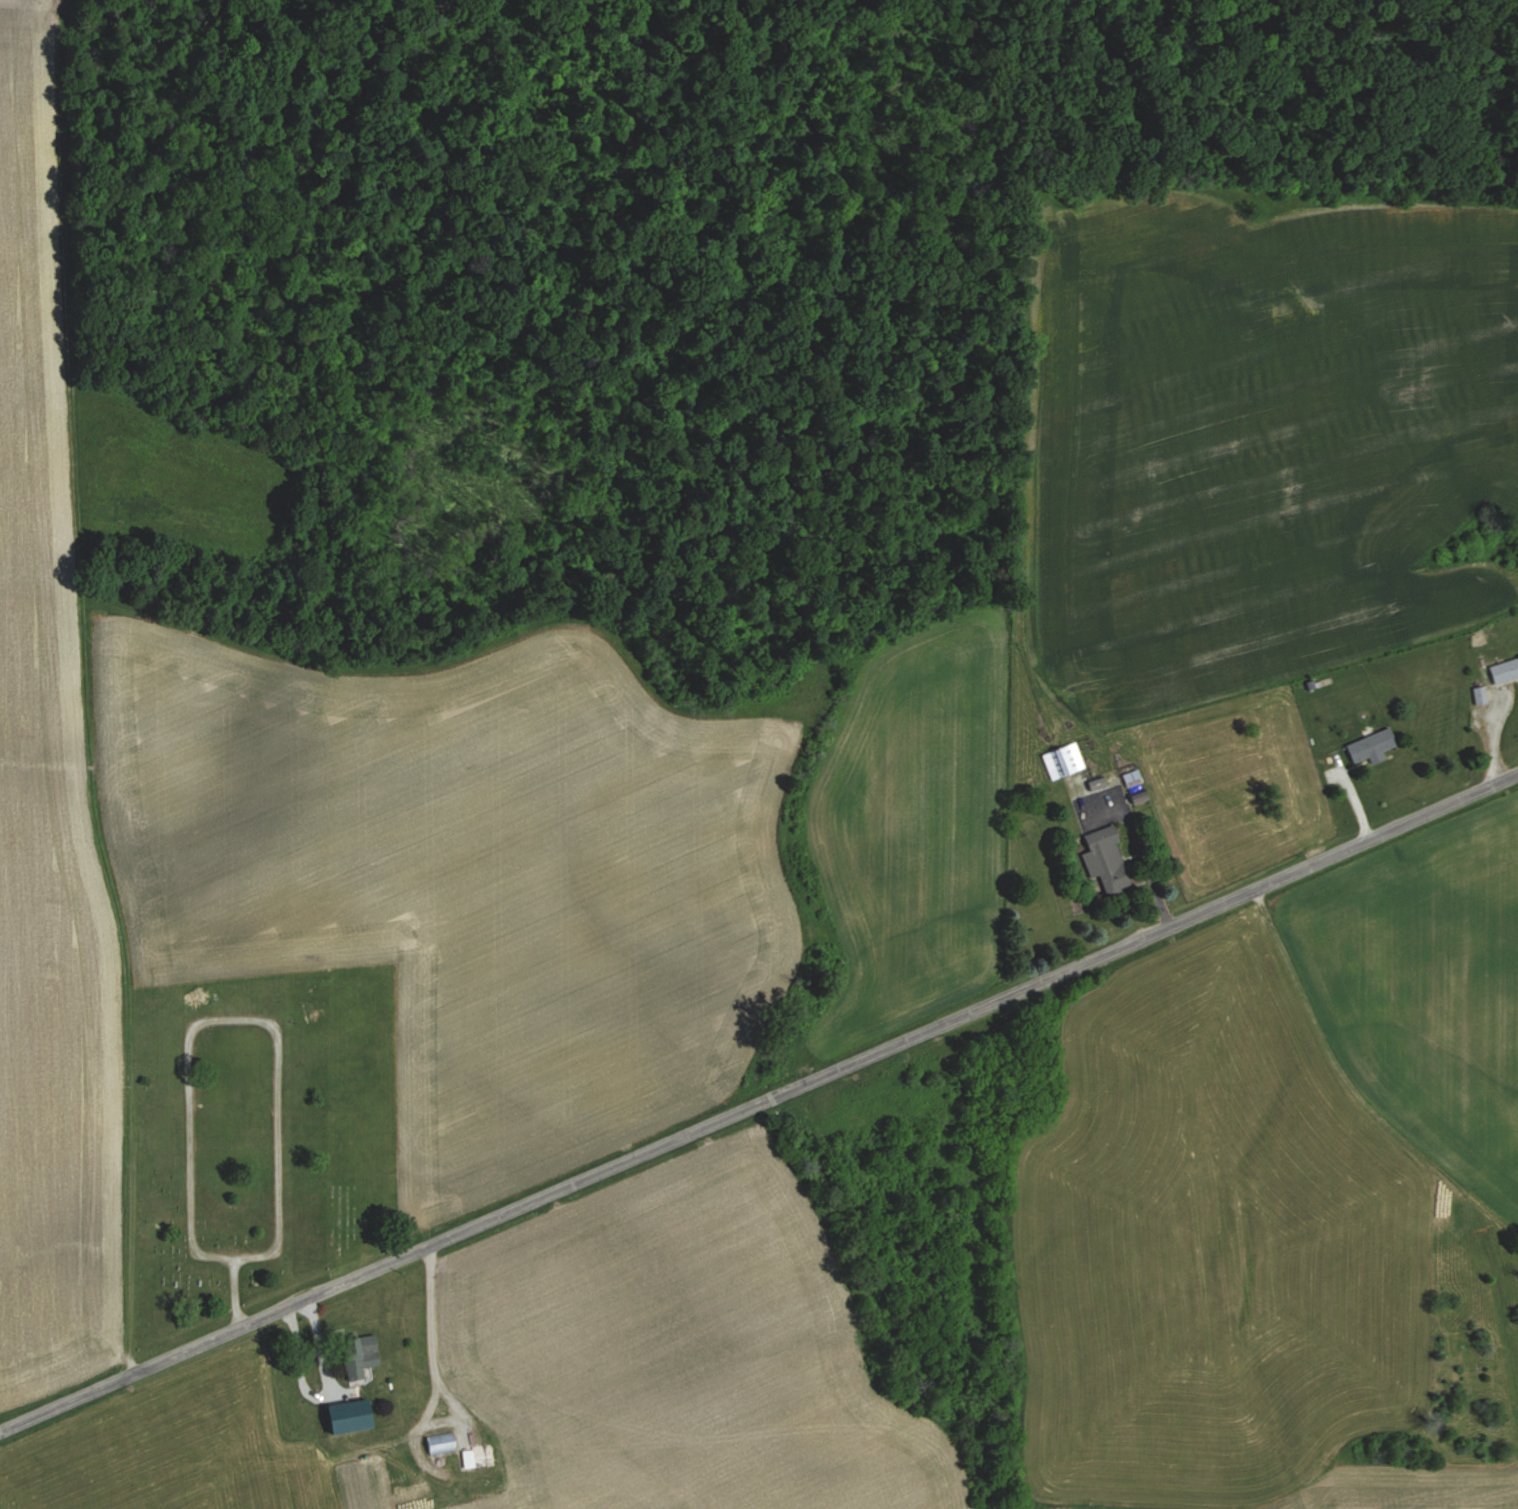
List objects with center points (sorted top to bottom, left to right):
building: (1503, 670)
building: (1369, 746)
building: (1062, 761)
road: (1143, 852)
building: (1104, 860)
road: (759, 1105)
building: (355, 1355)
building: (412, 1405)
building: (348, 1417)
road: (396, 1443)
building: (439, 1443)
building: (465, 1457)

